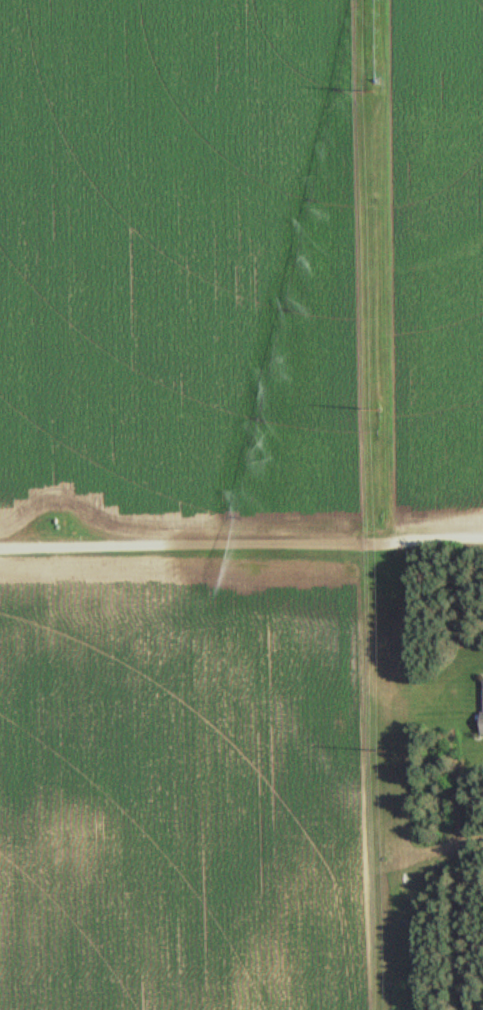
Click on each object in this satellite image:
road: (241, 551)

